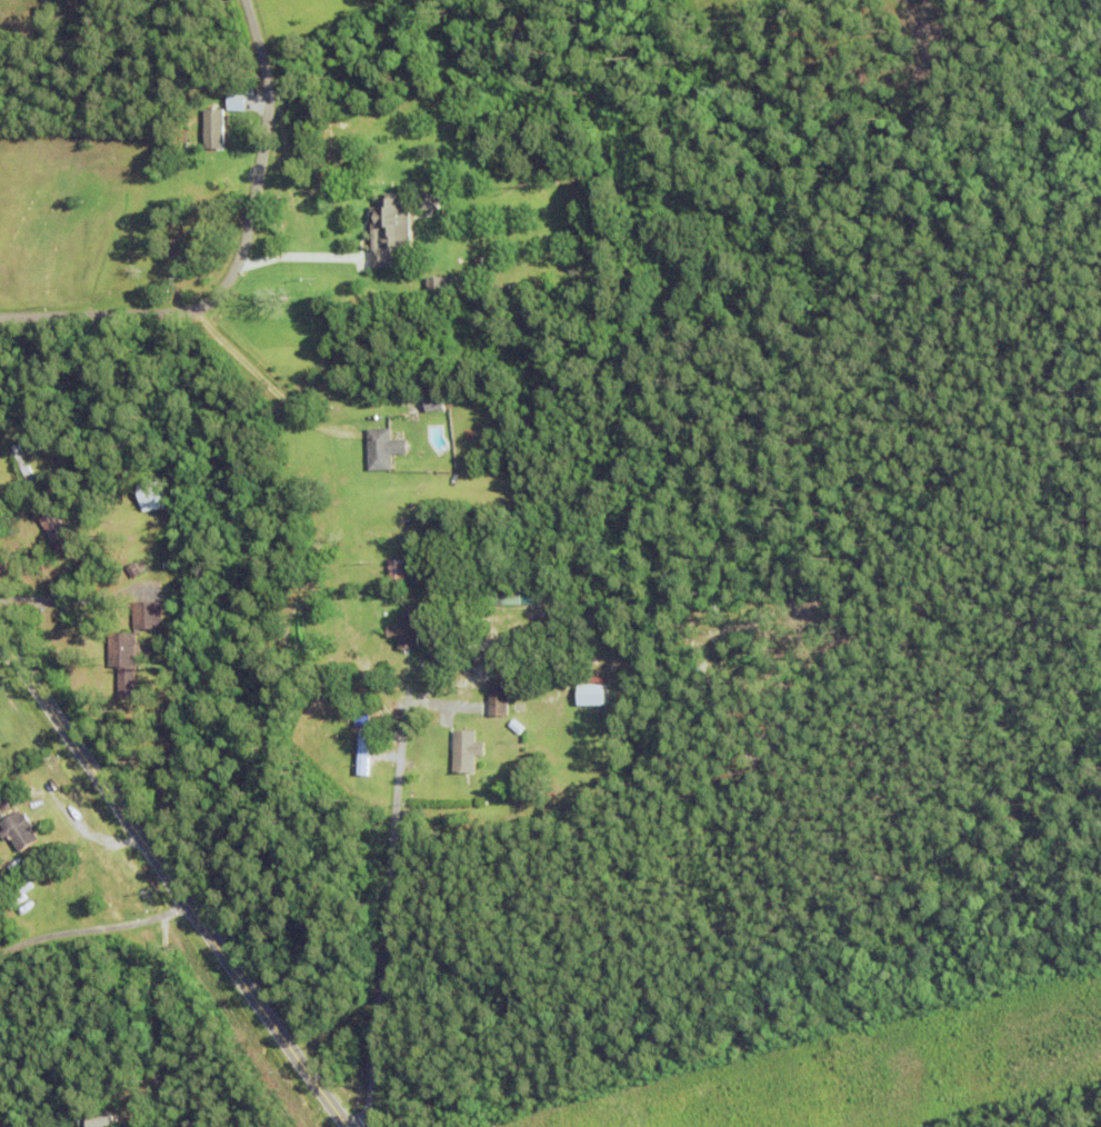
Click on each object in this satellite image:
building: (214, 128)
building: (429, 200)
building: (389, 228)
road: (298, 255)
road: (236, 257)
building: (478, 260)
building: (441, 285)
road: (267, 383)
building: (434, 402)
building: (383, 448)
building: (23, 463)
building: (150, 496)
building: (58, 530)
building: (441, 557)
building: (417, 558)
building: (398, 577)
building: (510, 597)
building: (147, 616)
building: (407, 630)
building: (124, 660)
building: (592, 691)
building: (500, 699)
building: (466, 751)
building: (362, 752)
building: (18, 830)
building: (43, 855)
road: (171, 881)
road: (388, 909)
road: (93, 931)
building: (157, 971)
road: (164, 1027)
building: (102, 1120)

